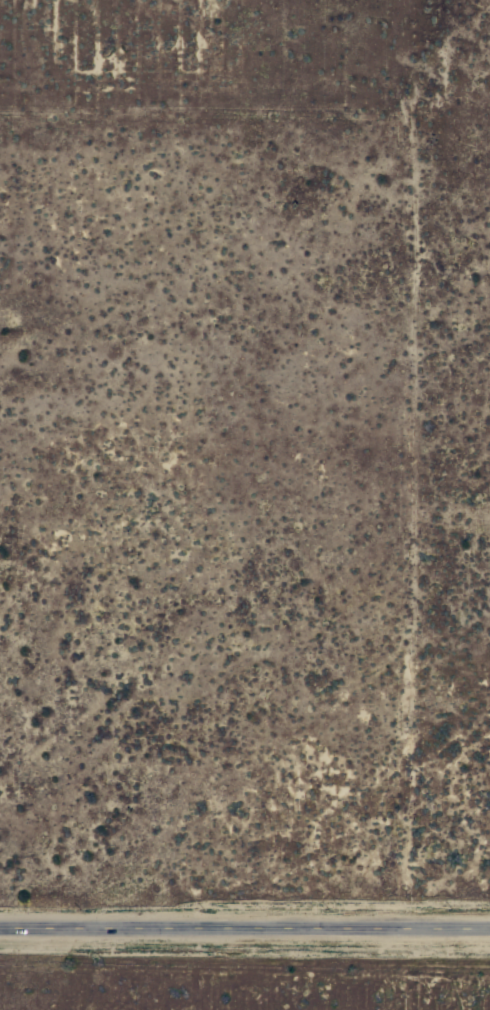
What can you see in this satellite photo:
road: (245, 930)

